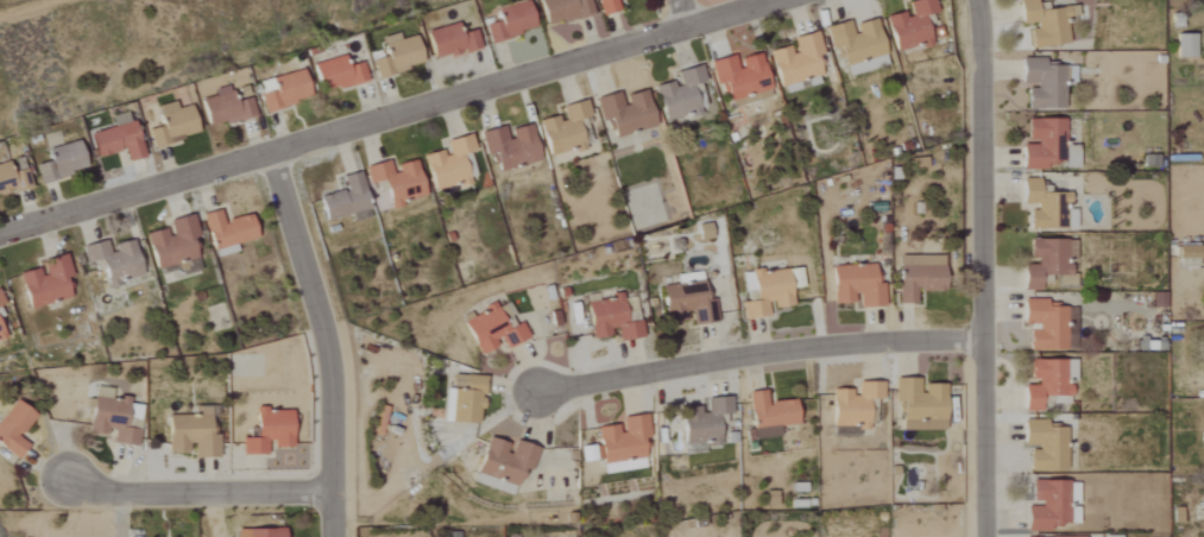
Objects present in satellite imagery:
building: (605, 6)
road: (692, 12)
building: (508, 21)
building: (1044, 21)
building: (912, 25)
building: (448, 40)
building: (853, 44)
building: (1184, 45)
building: (395, 55)
building: (795, 62)
building: (335, 74)
building: (739, 77)
building: (1042, 82)
building: (283, 90)
building: (680, 94)
building: (225, 107)
building: (623, 112)
road: (386, 113)
building: (170, 124)
building: (565, 128)
building: (114, 140)
building: (1045, 145)
building: (508, 146)
building: (58, 162)
building: (448, 163)
building: (916, 163)
building: (11, 178)
building: (393, 181)
building: (342, 200)
building: (1045, 207)
building: (225, 232)
building: (701, 232)
building: (1186, 254)
building: (112, 259)
building: (1045, 261)
road: (979, 267)
building: (916, 277)
building: (43, 282)
building: (855, 286)
building: (764, 292)
building: (686, 299)
building: (0, 303)
building: (0, 316)
building: (612, 317)
building: (1048, 326)
building: (492, 329)
building: (0, 334)
road: (324, 339)
road: (761, 352)
building: (1046, 383)
building: (462, 400)
building: (918, 404)
building: (853, 405)
building: (768, 415)
building: (109, 421)
building: (707, 423)
building: (12, 428)
building: (265, 432)
building: (190, 434)
building: (620, 443)
building: (1044, 446)
building: (502, 463)
road: (197, 491)
building: (1048, 504)
road: (121, 513)
building: (1203, 513)
building: (257, 532)

